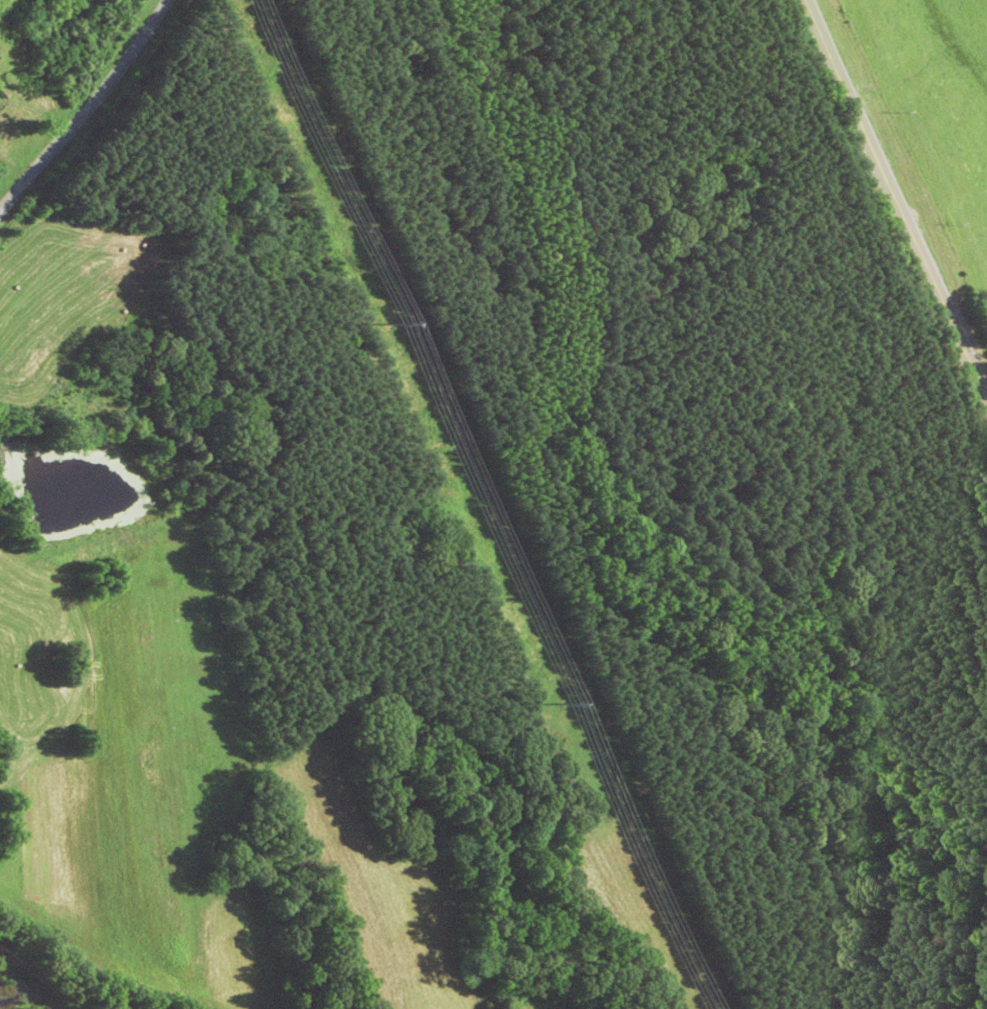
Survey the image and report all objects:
road: (87, 109)
building: (7, 114)
road: (895, 202)

